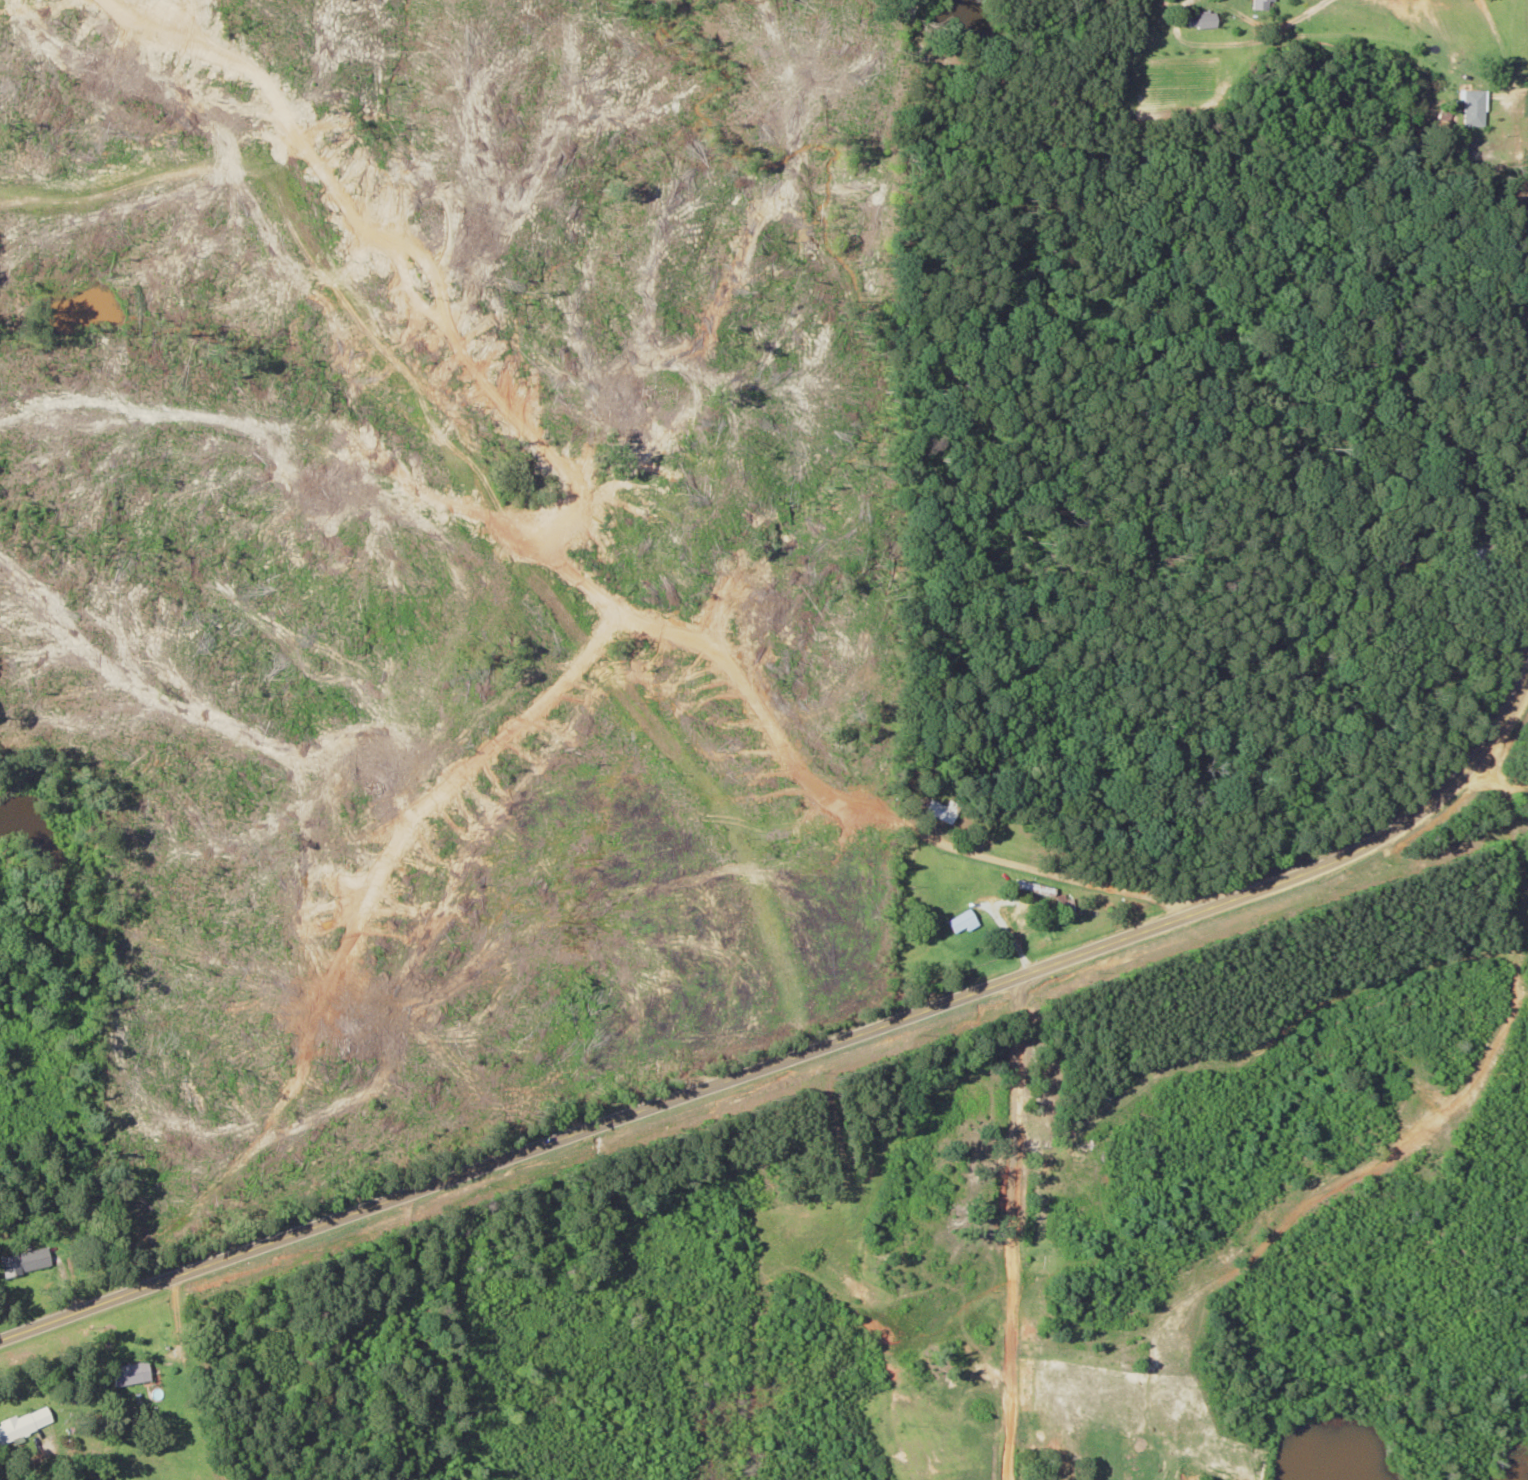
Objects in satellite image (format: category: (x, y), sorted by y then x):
building: (1265, 4)
building: (1204, 19)
building: (1475, 107)
road: (1526, 277)
road: (832, 767)
building: (945, 811)
building: (964, 922)
road: (1035, 962)
road: (1009, 1226)
building: (29, 1263)
building: (127, 1373)
building: (26, 1423)
building: (345, 1428)

